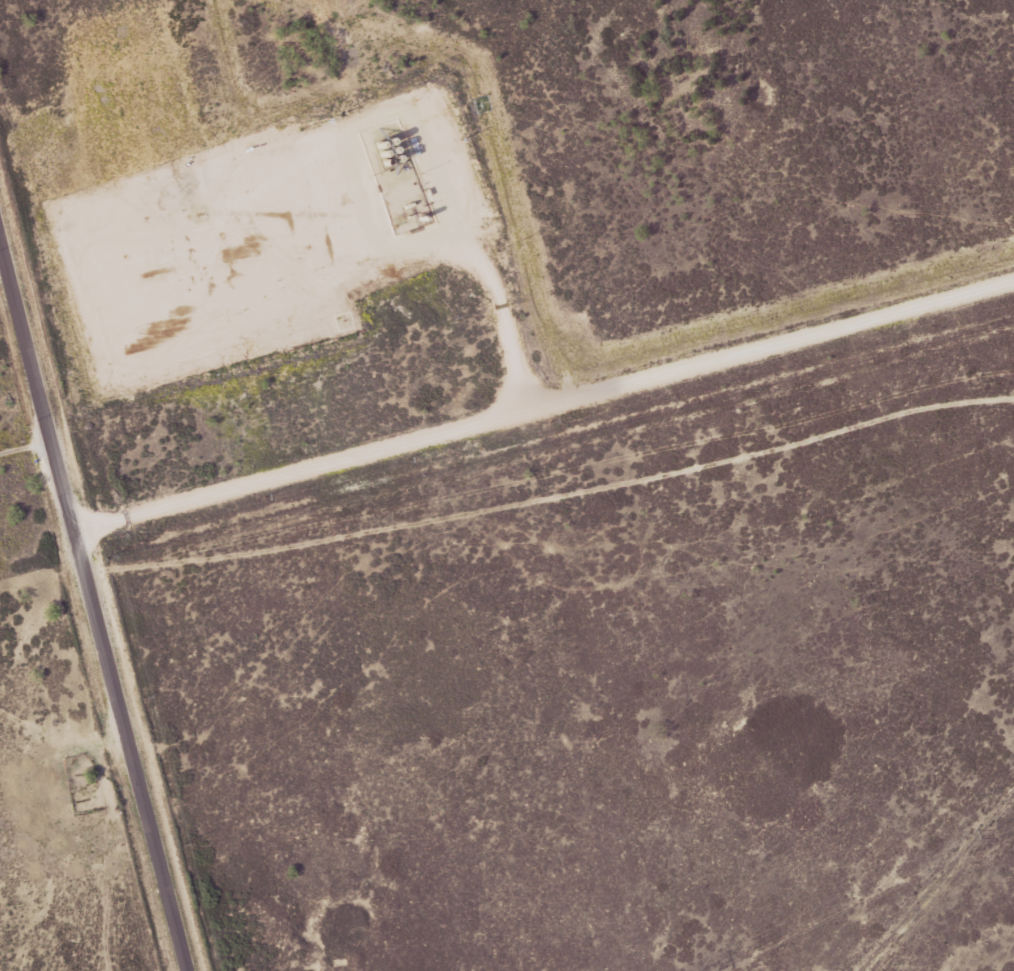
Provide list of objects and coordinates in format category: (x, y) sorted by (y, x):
road: (546, 401)
road: (25, 447)
road: (92, 604)
power tower: (997, 831)

